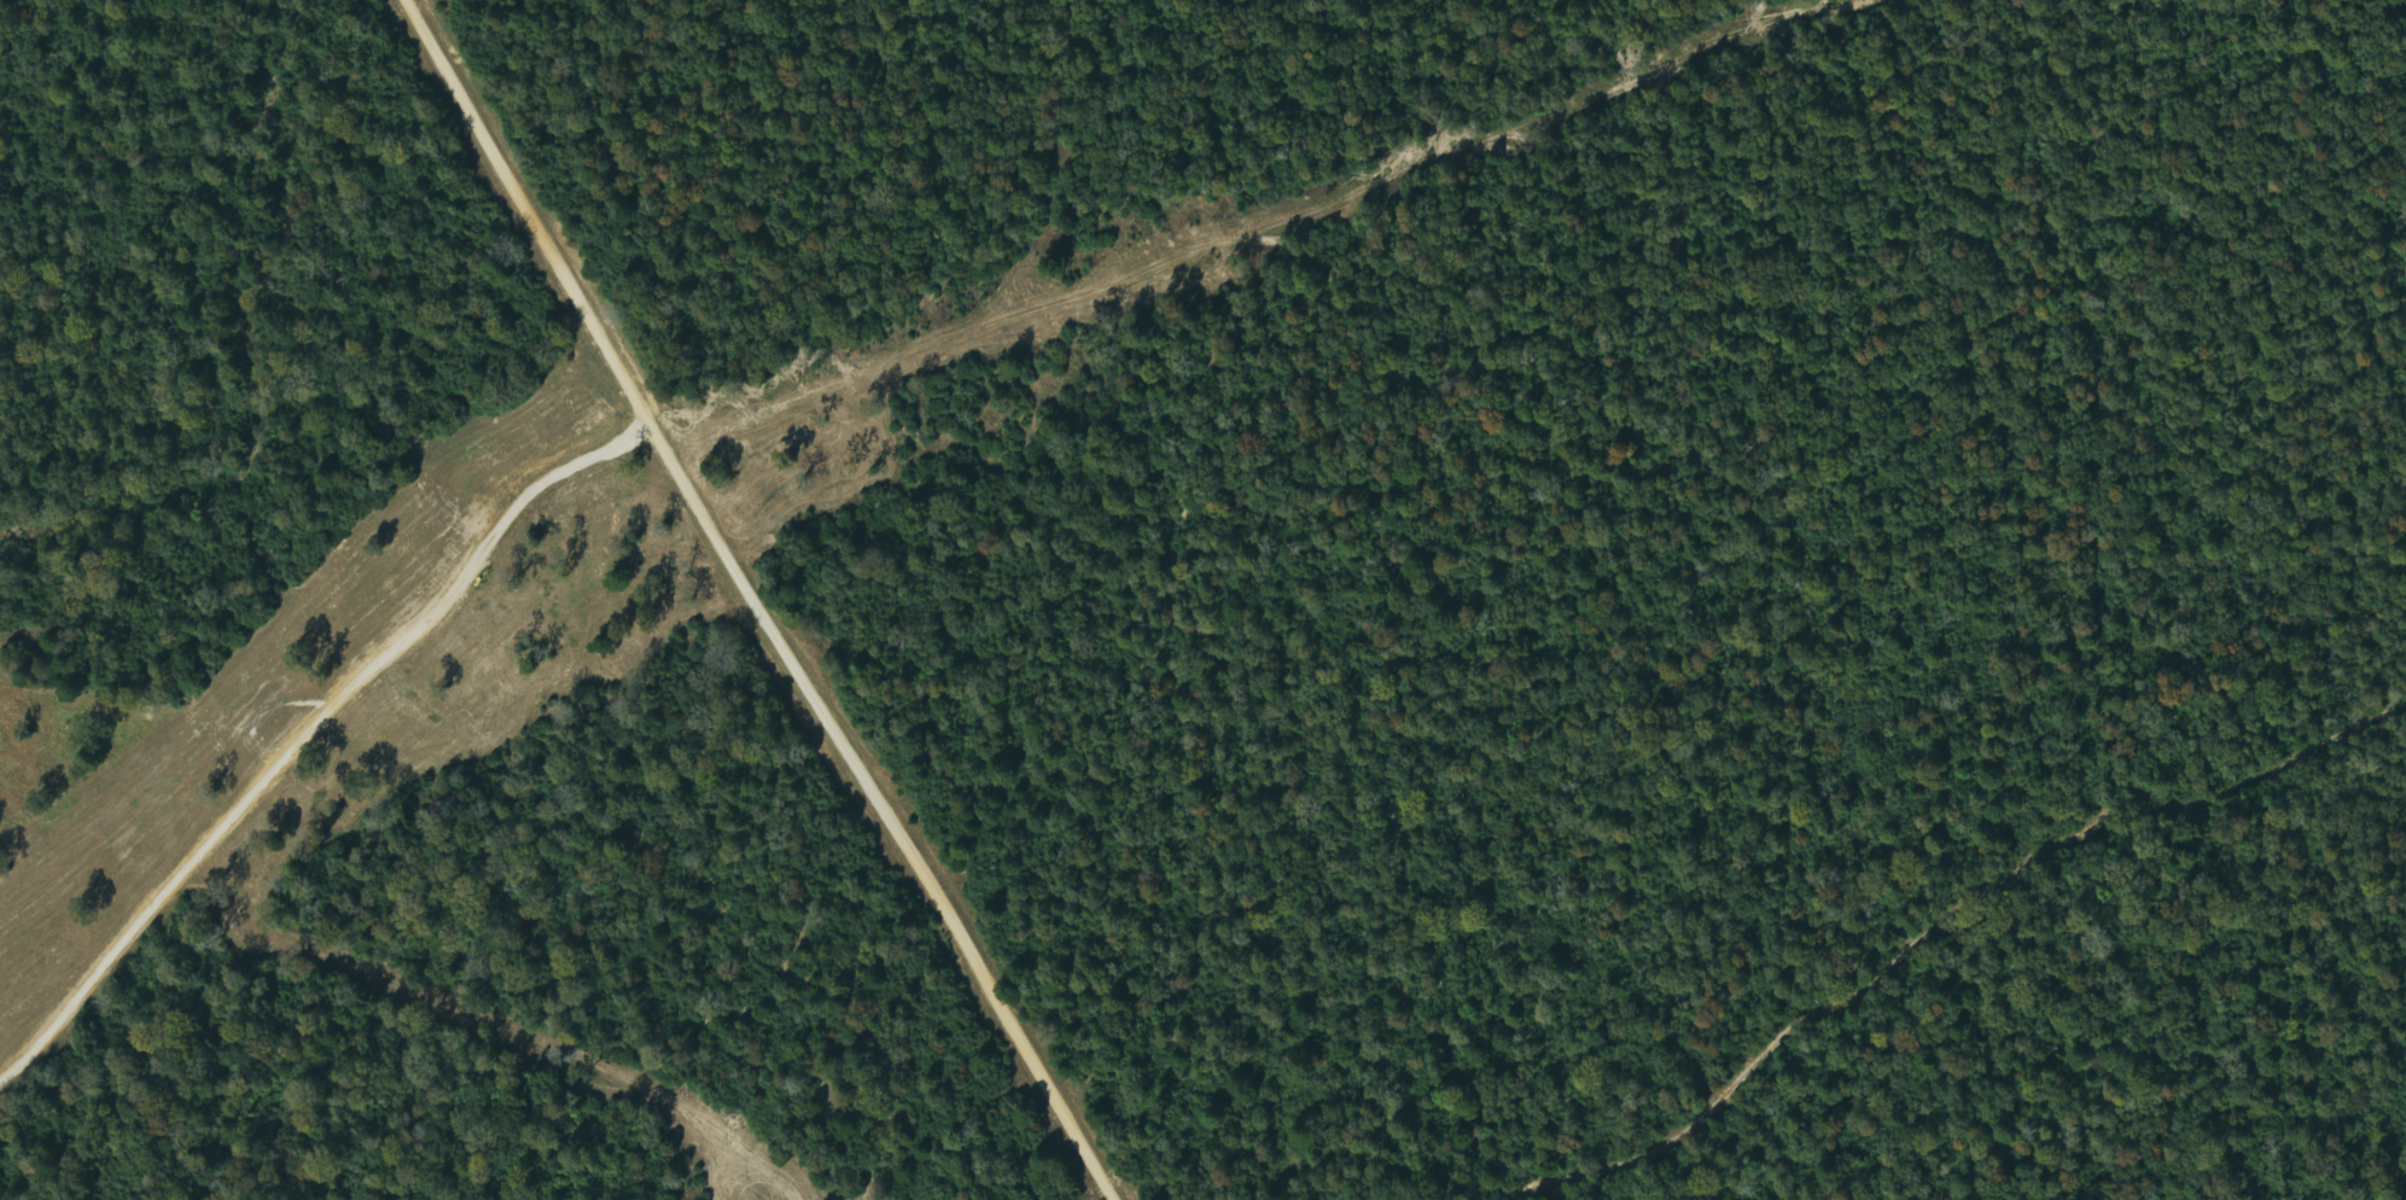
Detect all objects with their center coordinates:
road: (753, 600)
road: (308, 711)

